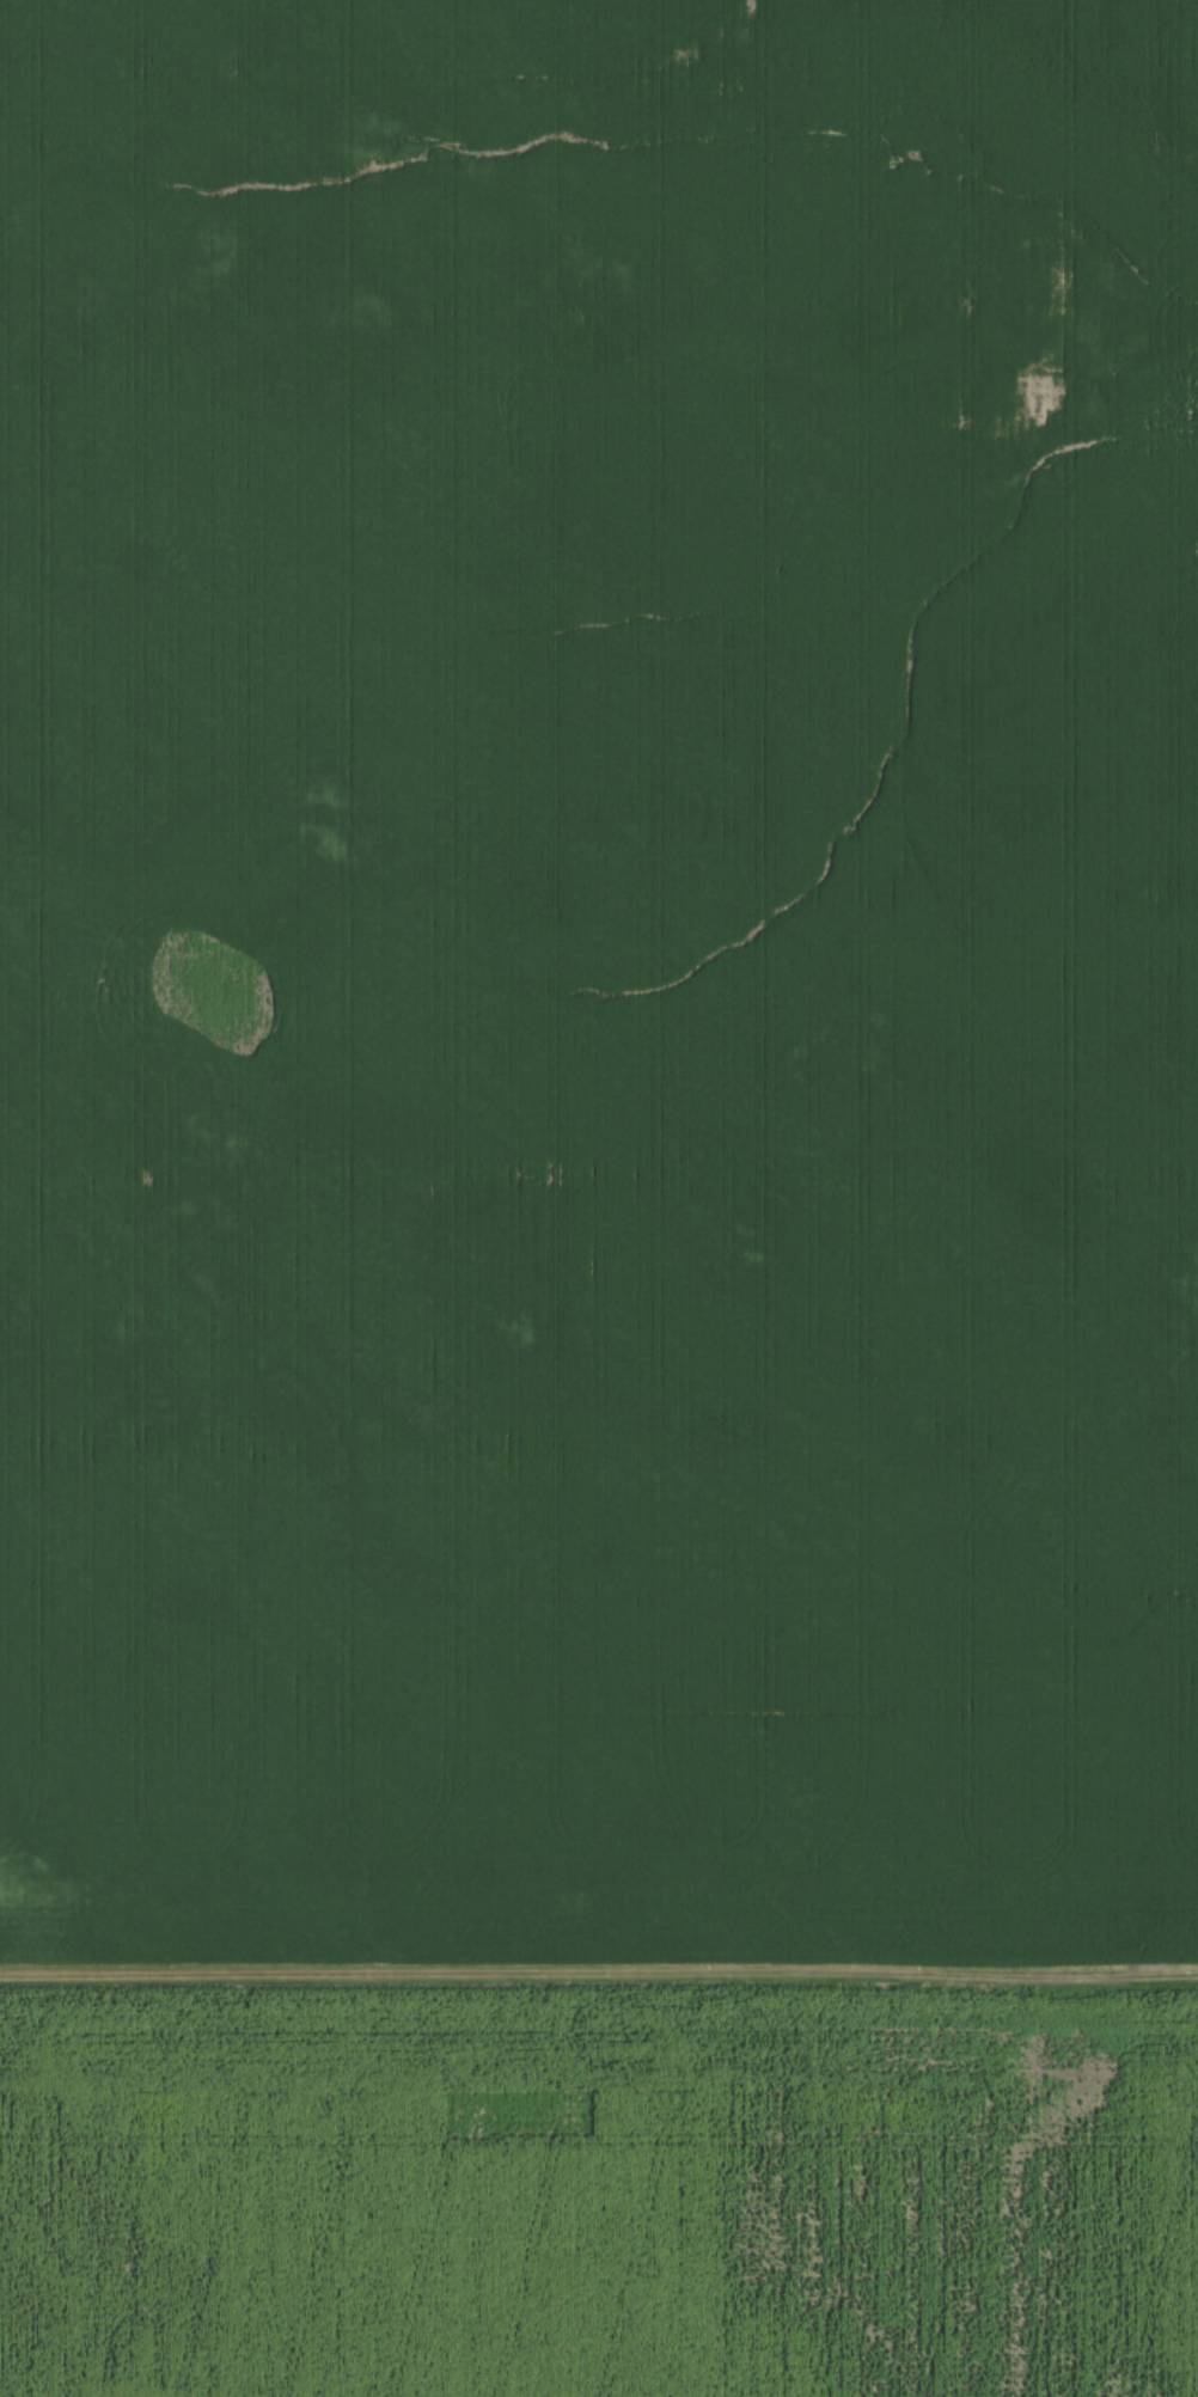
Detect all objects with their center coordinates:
road: (599, 1985)

